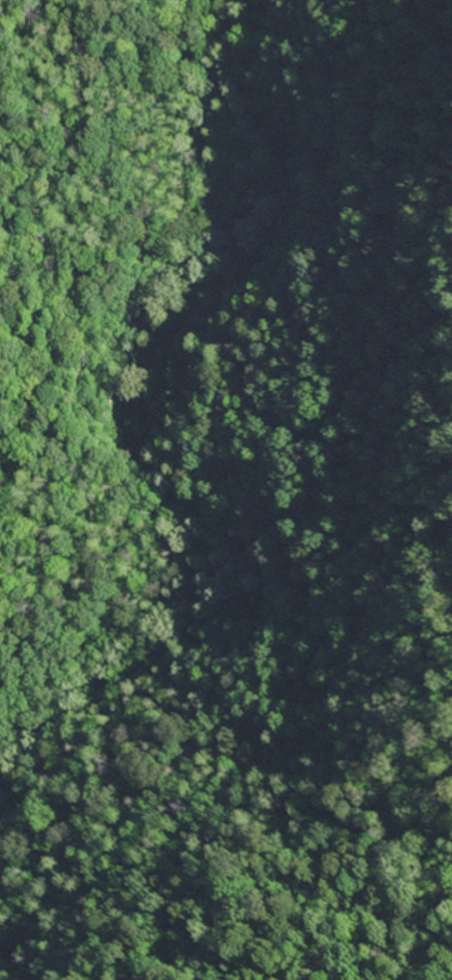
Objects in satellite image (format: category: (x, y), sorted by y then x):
road: (52, 320)

